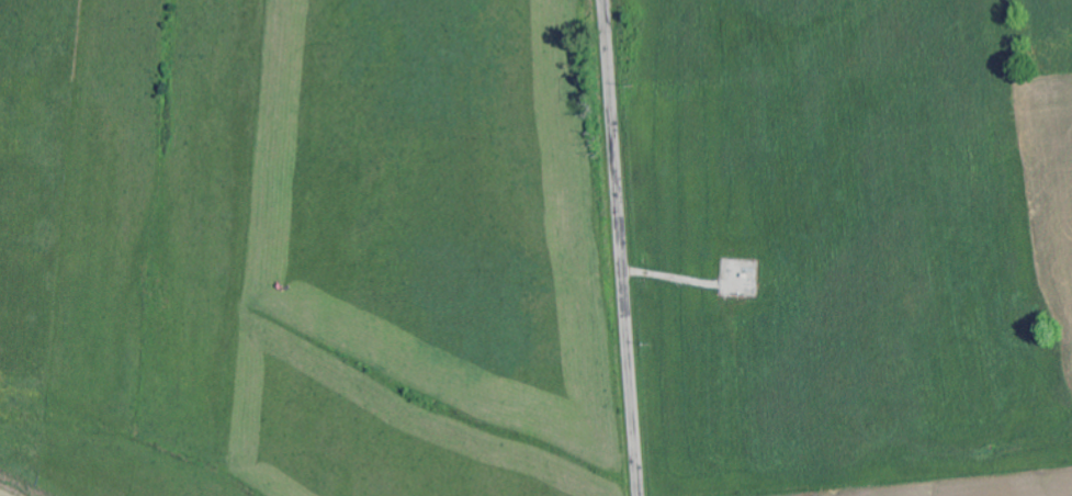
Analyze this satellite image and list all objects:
road: (620, 248)

